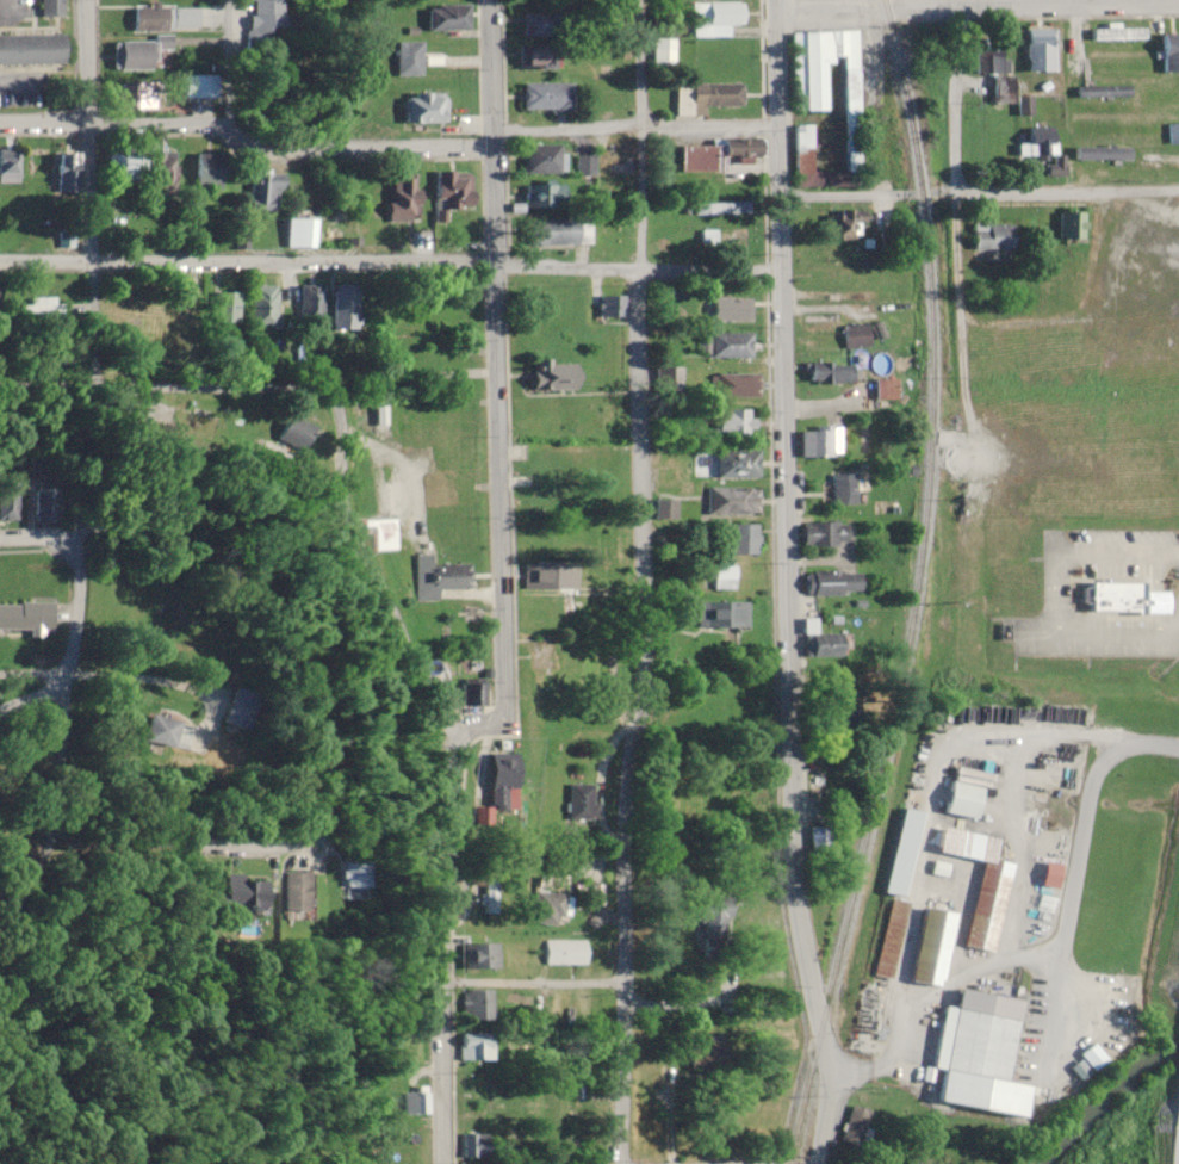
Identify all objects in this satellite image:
road: (960, 2)
road: (976, 5)
building: (51, 8)
building: (166, 17)
building: (448, 18)
building: (715, 18)
building: (539, 24)
building: (263, 26)
building: (1117, 33)
building: (31, 50)
building: (662, 51)
building: (1041, 51)
building: (1169, 52)
building: (132, 55)
building: (535, 56)
building: (408, 60)
road: (491, 61)
building: (1000, 75)
building: (199, 86)
building: (808, 86)
building: (1103, 92)
building: (138, 94)
building: (547, 97)
building: (706, 98)
building: (424, 109)
road: (635, 123)
road: (494, 130)
road: (244, 131)
building: (1172, 134)
building: (1037, 145)
building: (802, 149)
building: (1103, 154)
building: (713, 155)
building: (623, 157)
building: (542, 160)
building: (585, 166)
building: (8, 167)
building: (120, 167)
building: (63, 173)
building: (209, 173)
road: (80, 191)
building: (263, 191)
building: (453, 191)
road: (978, 191)
building: (550, 196)
building: (403, 200)
building: (719, 209)
building: (844, 227)
building: (1068, 227)
building: (300, 234)
building: (554, 234)
building: (991, 242)
road: (957, 248)
road: (390, 265)
building: (310, 299)
building: (0, 303)
building: (188, 303)
building: (37, 307)
building: (227, 307)
building: (262, 307)
building: (607, 307)
building: (345, 308)
building: (730, 310)
road: (1080, 311)
building: (857, 336)
building: (730, 346)
building: (831, 371)
building: (556, 374)
building: (736, 385)
building: (885, 388)
road: (340, 416)
building: (733, 423)
building: (820, 441)
building: (737, 464)
building: (550, 481)
building: (846, 489)
building: (422, 494)
building: (8, 500)
building: (733, 502)
building: (48, 503)
building: (826, 533)
building: (1104, 534)
road: (35, 538)
building: (740, 539)
building: (441, 572)
building: (551, 575)
building: (724, 577)
road: (638, 582)
building: (834, 582)
road: (786, 583)
railway: (914, 587)
building: (1130, 598)
road: (75, 607)
building: (721, 614)
building: (26, 615)
building: (823, 642)
road: (504, 663)
road: (33, 696)
building: (246, 707)
building: (165, 730)
building: (504, 782)
building: (964, 799)
road: (317, 815)
building: (820, 837)
road: (1075, 866)
building: (361, 873)
building: (1051, 874)
building: (980, 883)
building: (300, 892)
building: (490, 894)
building: (249, 896)
building: (550, 909)
building: (718, 923)
building: (889, 937)
building: (932, 947)
building: (566, 952)
building: (482, 955)
road: (532, 982)
building: (480, 1004)
building: (476, 1046)
building: (709, 1053)
building: (981, 1053)
river: (1099, 1092)
building: (414, 1103)
building: (576, 1123)
building: (855, 1125)
building: (476, 1145)

